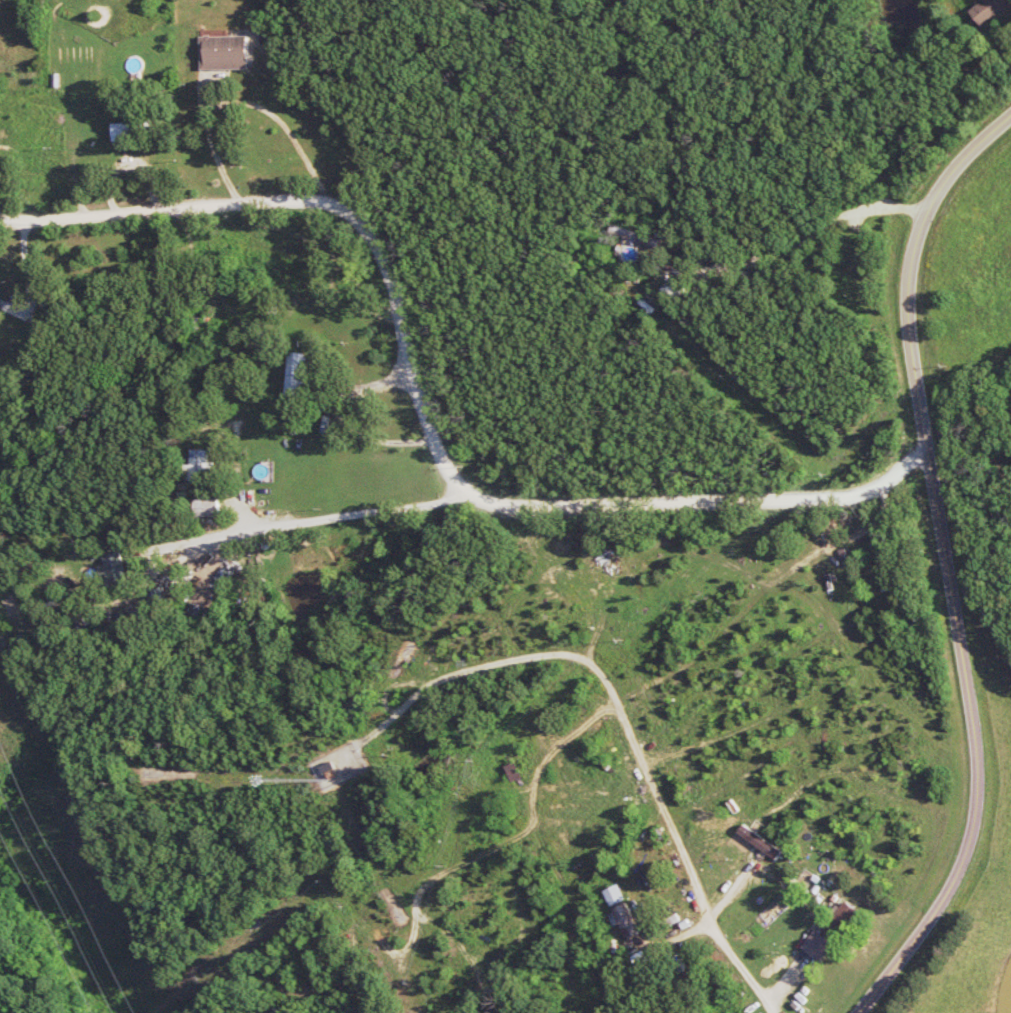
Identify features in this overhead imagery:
building: (994, 11)
building: (230, 53)
building: (136, 132)
road: (136, 154)
road: (288, 174)
road: (28, 273)
building: (0, 309)
building: (300, 373)
road: (419, 422)
building: (202, 467)
building: (211, 507)
road: (283, 530)
road: (946, 563)
building: (118, 571)
building: (765, 842)
building: (619, 895)
building: (629, 920)
building: (845, 921)
building: (822, 946)

